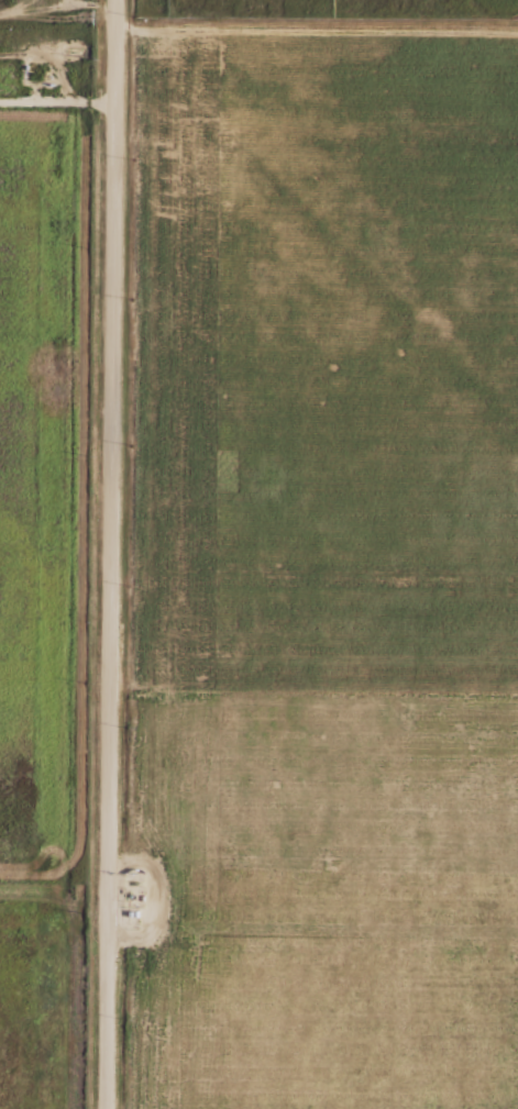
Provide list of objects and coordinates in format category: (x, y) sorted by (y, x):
road: (111, 554)

